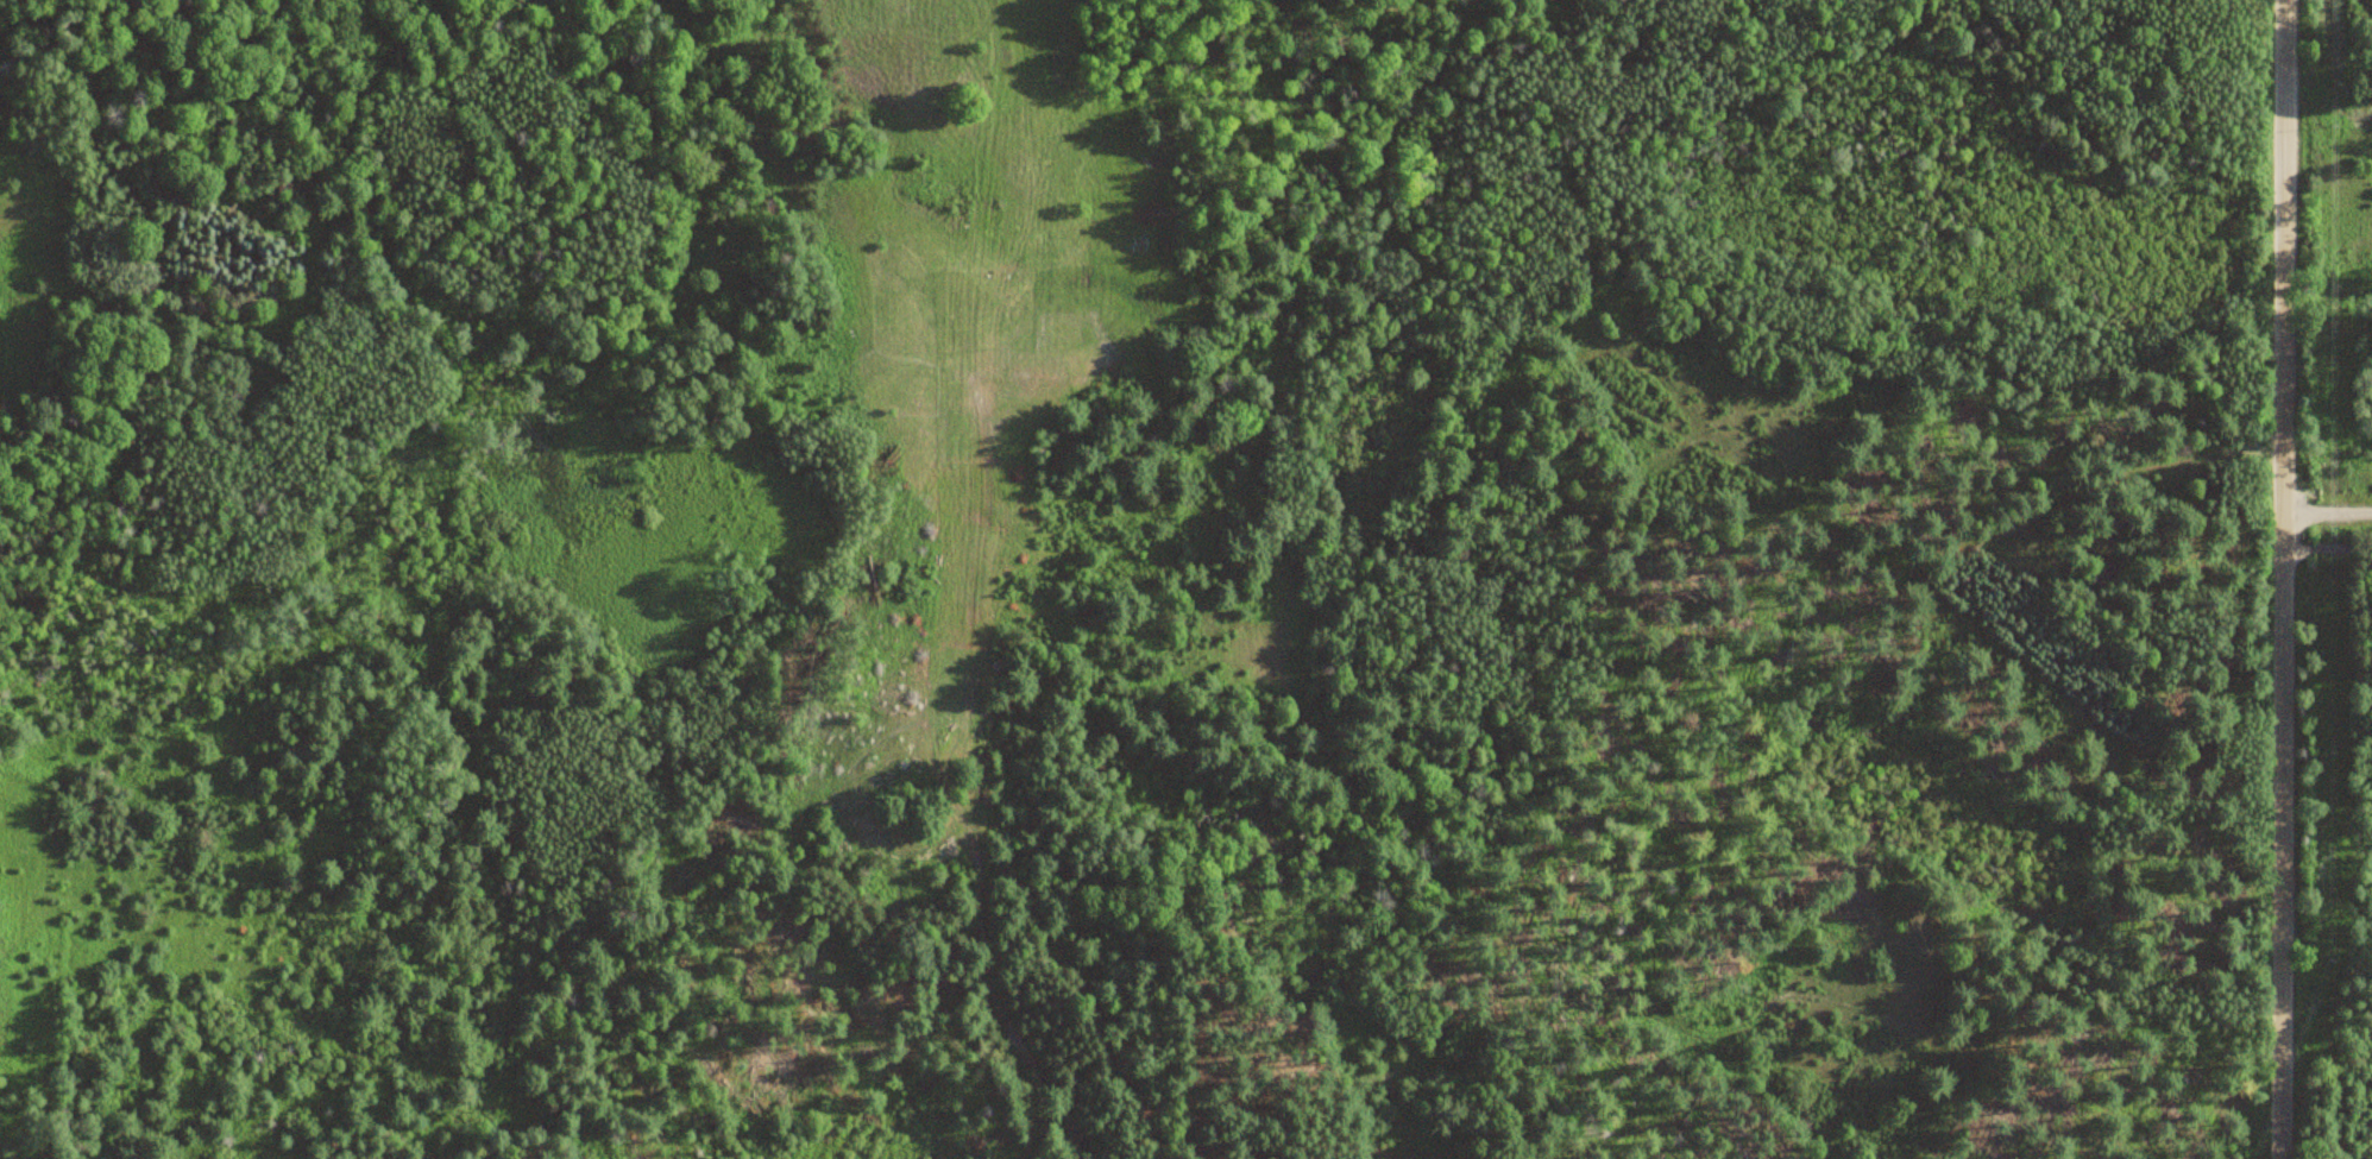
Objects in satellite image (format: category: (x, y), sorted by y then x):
road: (2327, 515)
road: (2282, 579)

